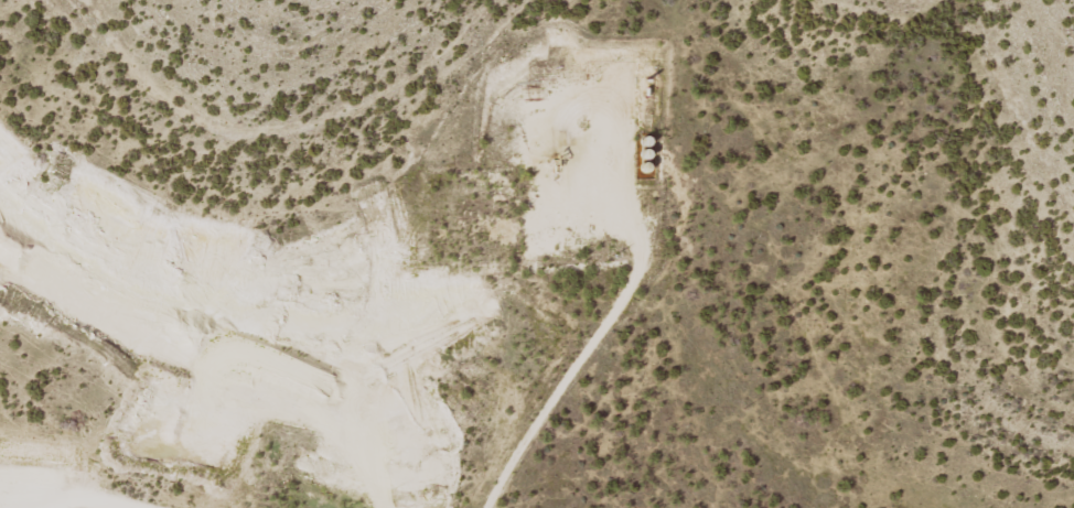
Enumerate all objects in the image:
road: (53, 493)

